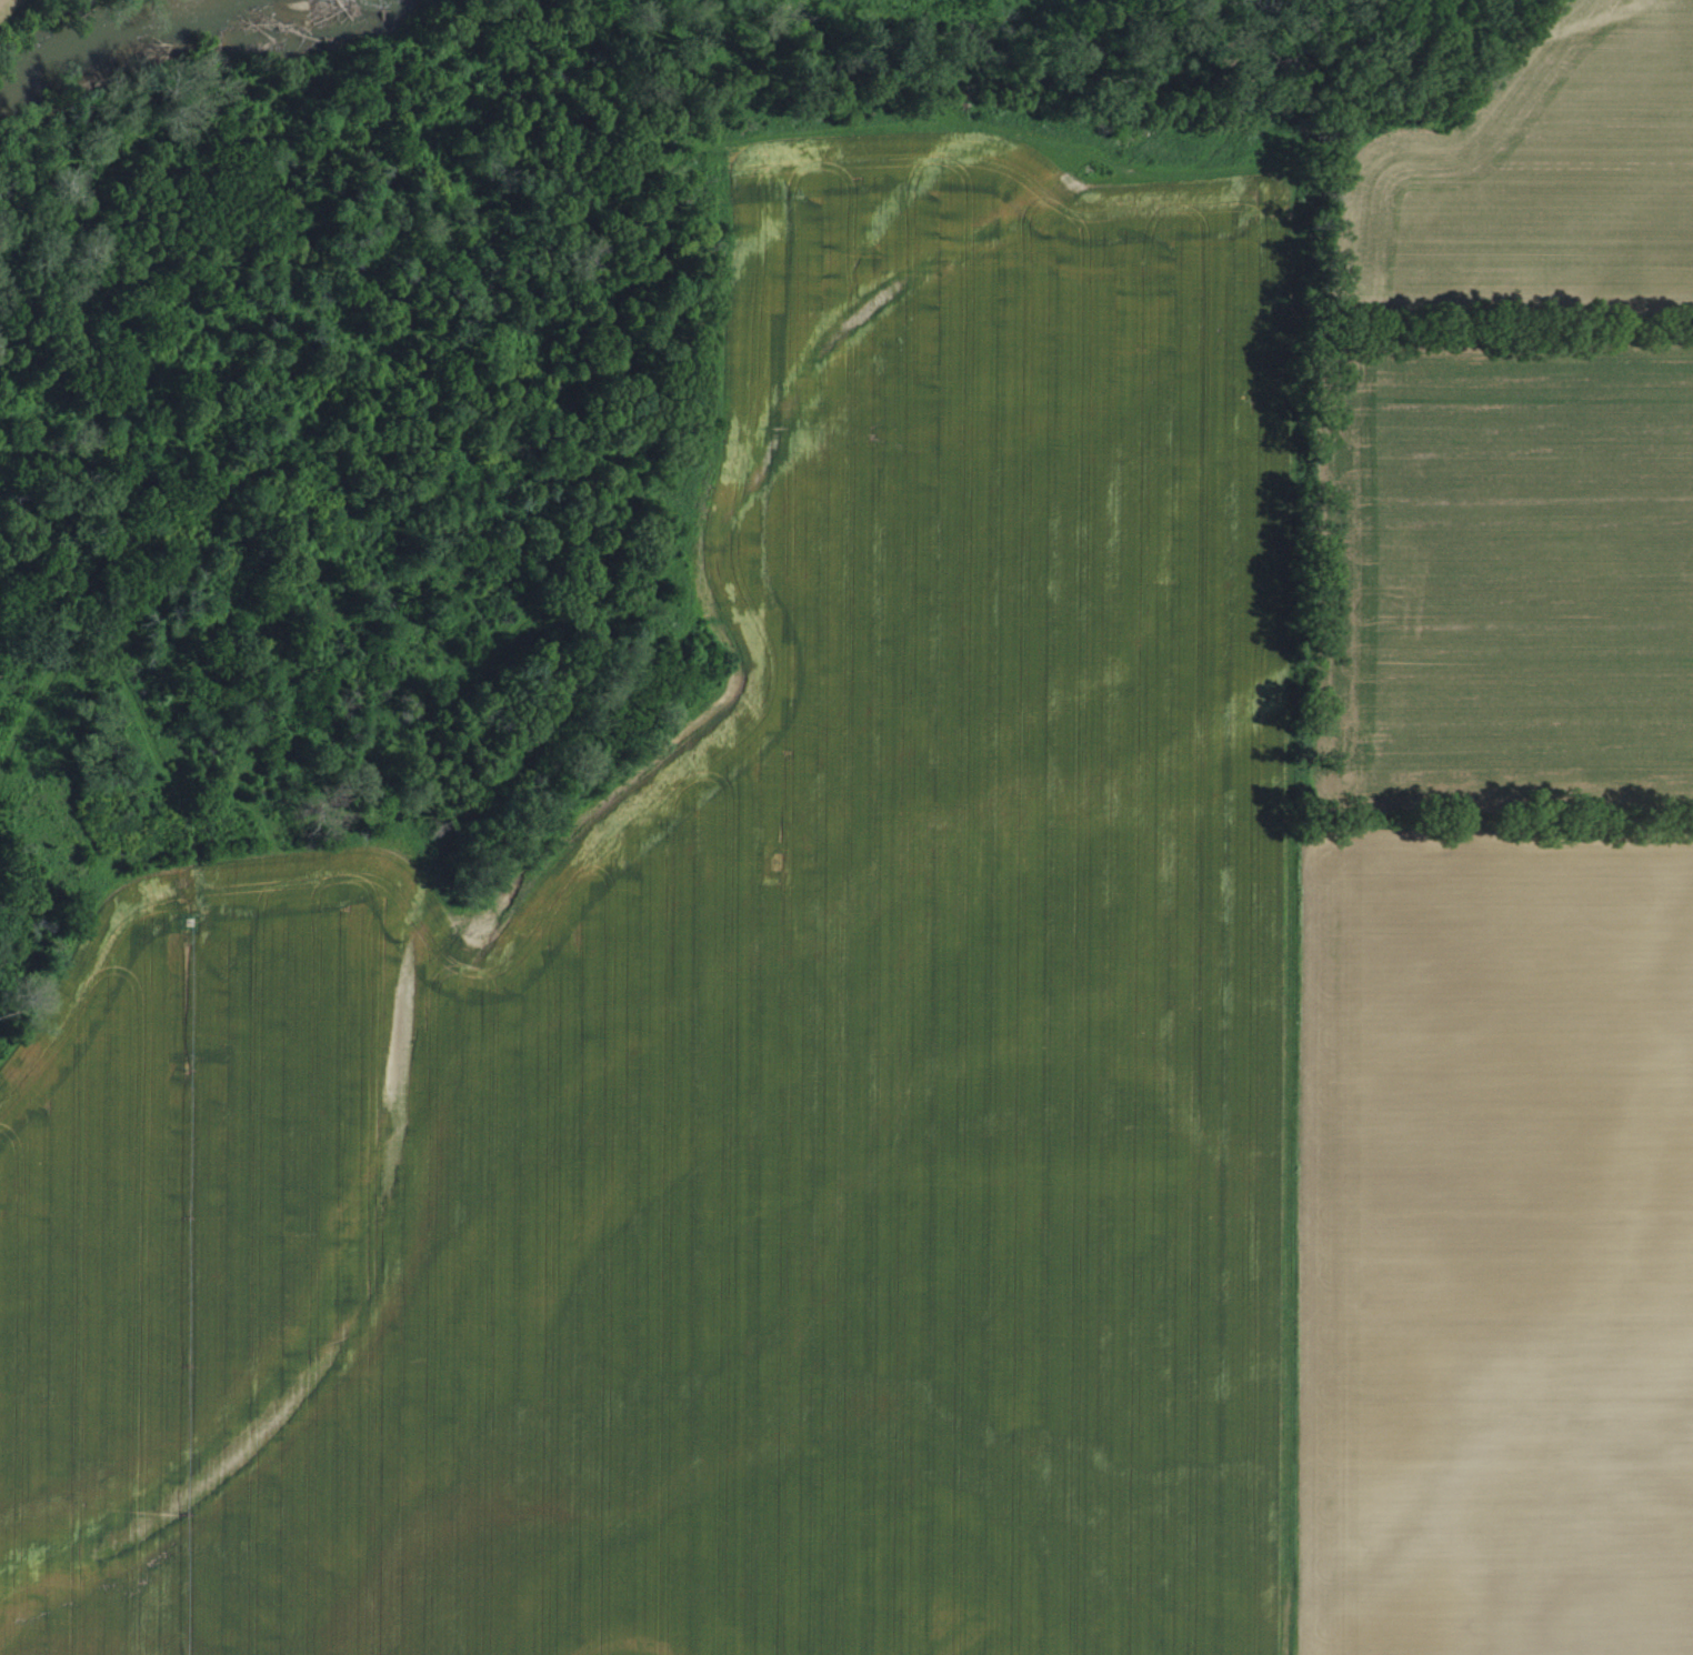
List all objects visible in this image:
river: (131, 28)

